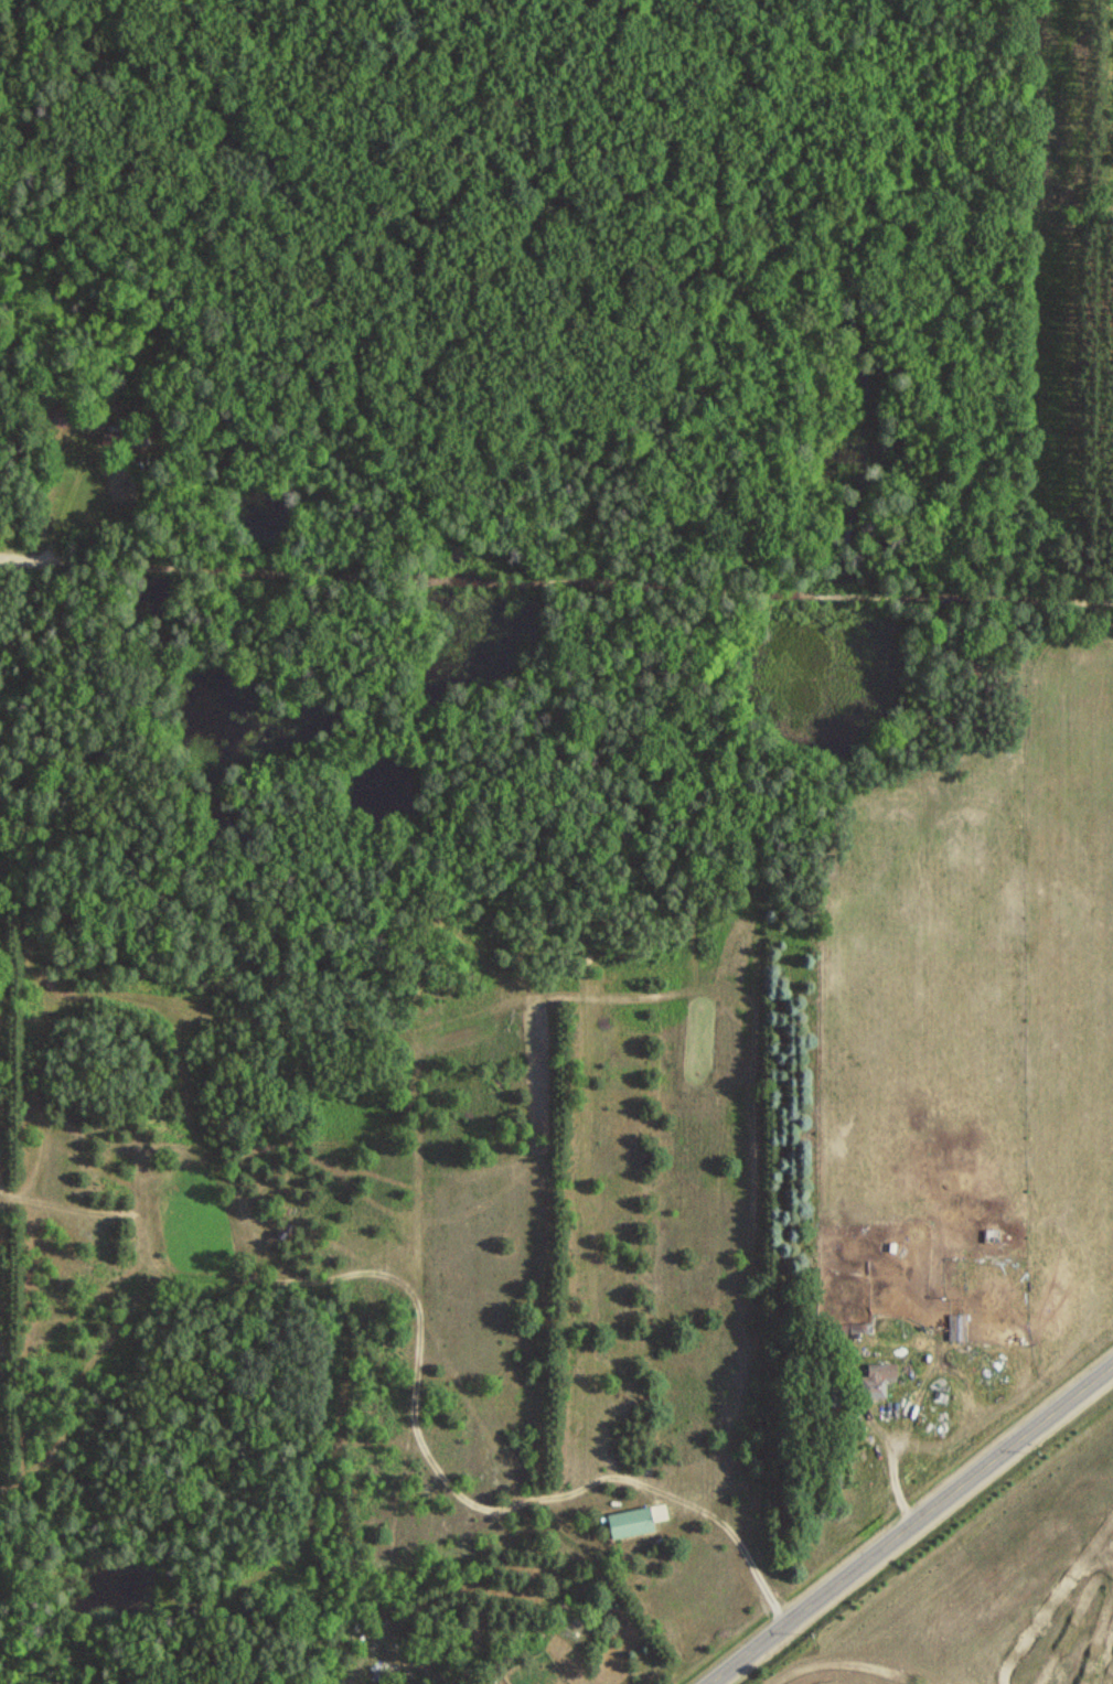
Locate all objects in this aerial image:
road: (375, 288)
road: (12, 558)
road: (568, 583)
building: (961, 1329)
building: (888, 1373)
road: (716, 1513)
building: (633, 1524)
road: (912, 1527)

